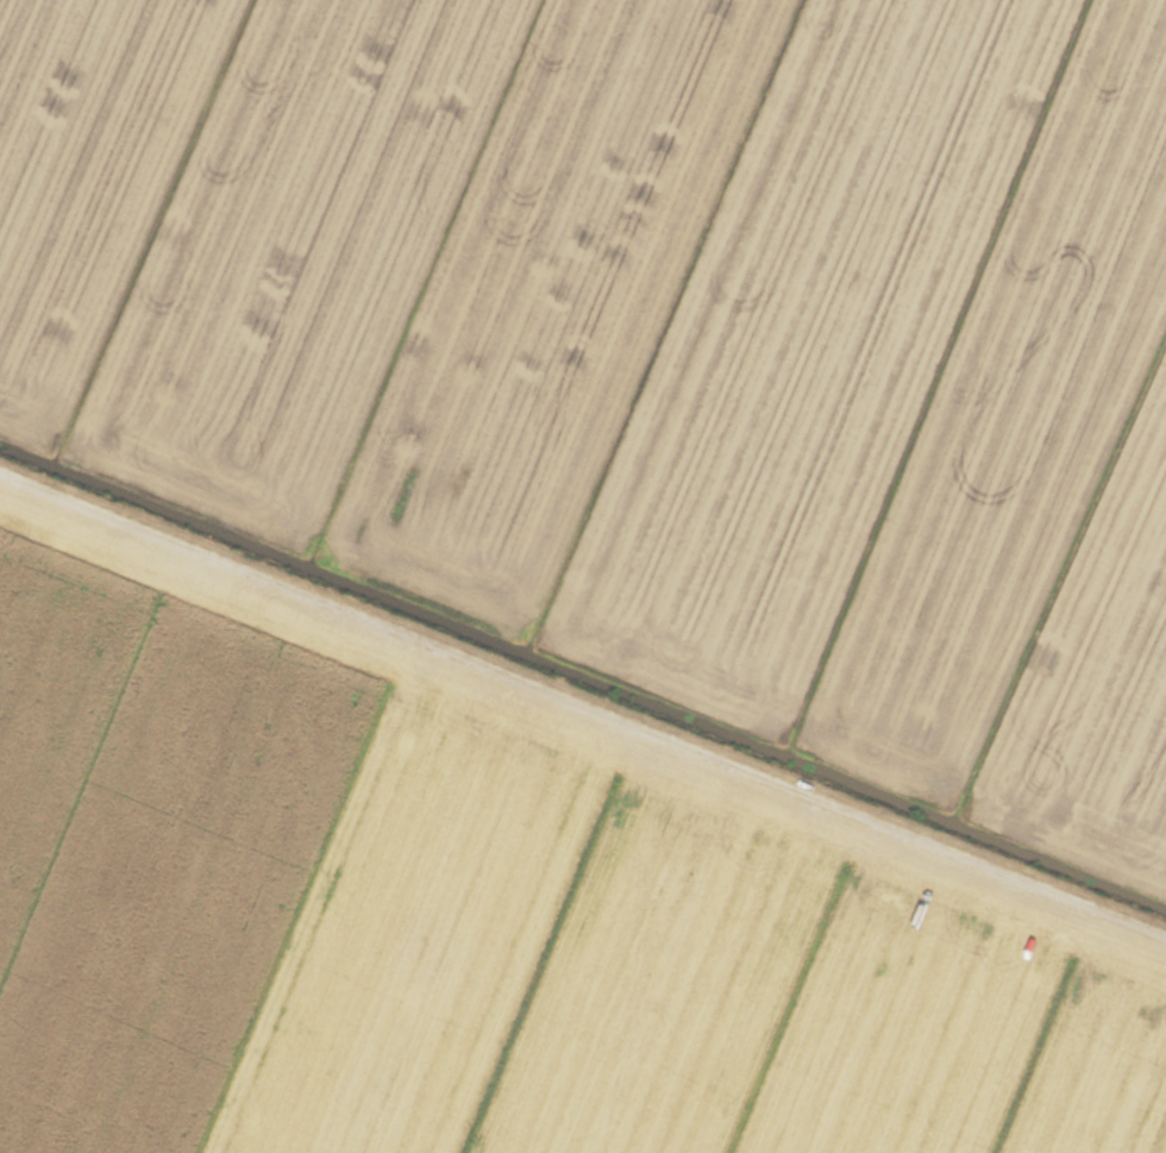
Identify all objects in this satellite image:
crop: (583, 576)
road: (583, 718)

